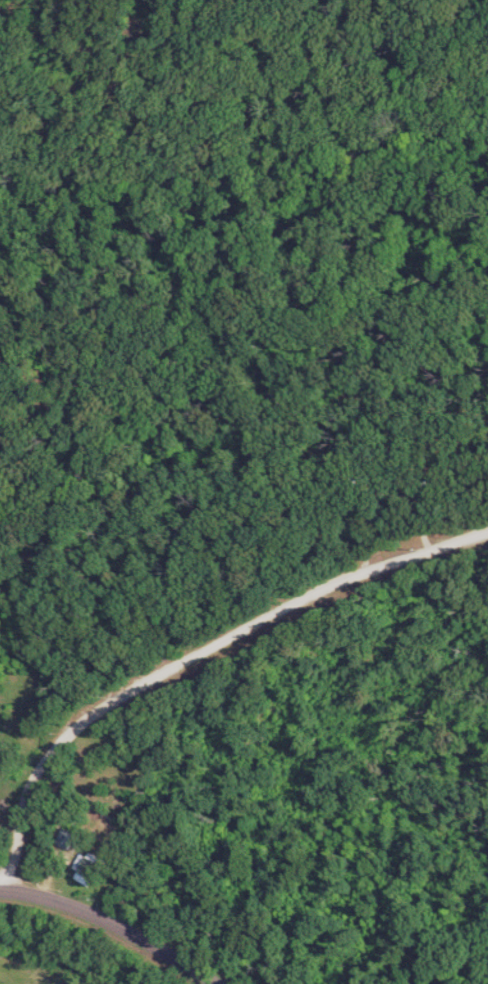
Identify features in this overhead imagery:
road: (191, 660)
building: (70, 838)
building: (96, 868)
road: (117, 935)

